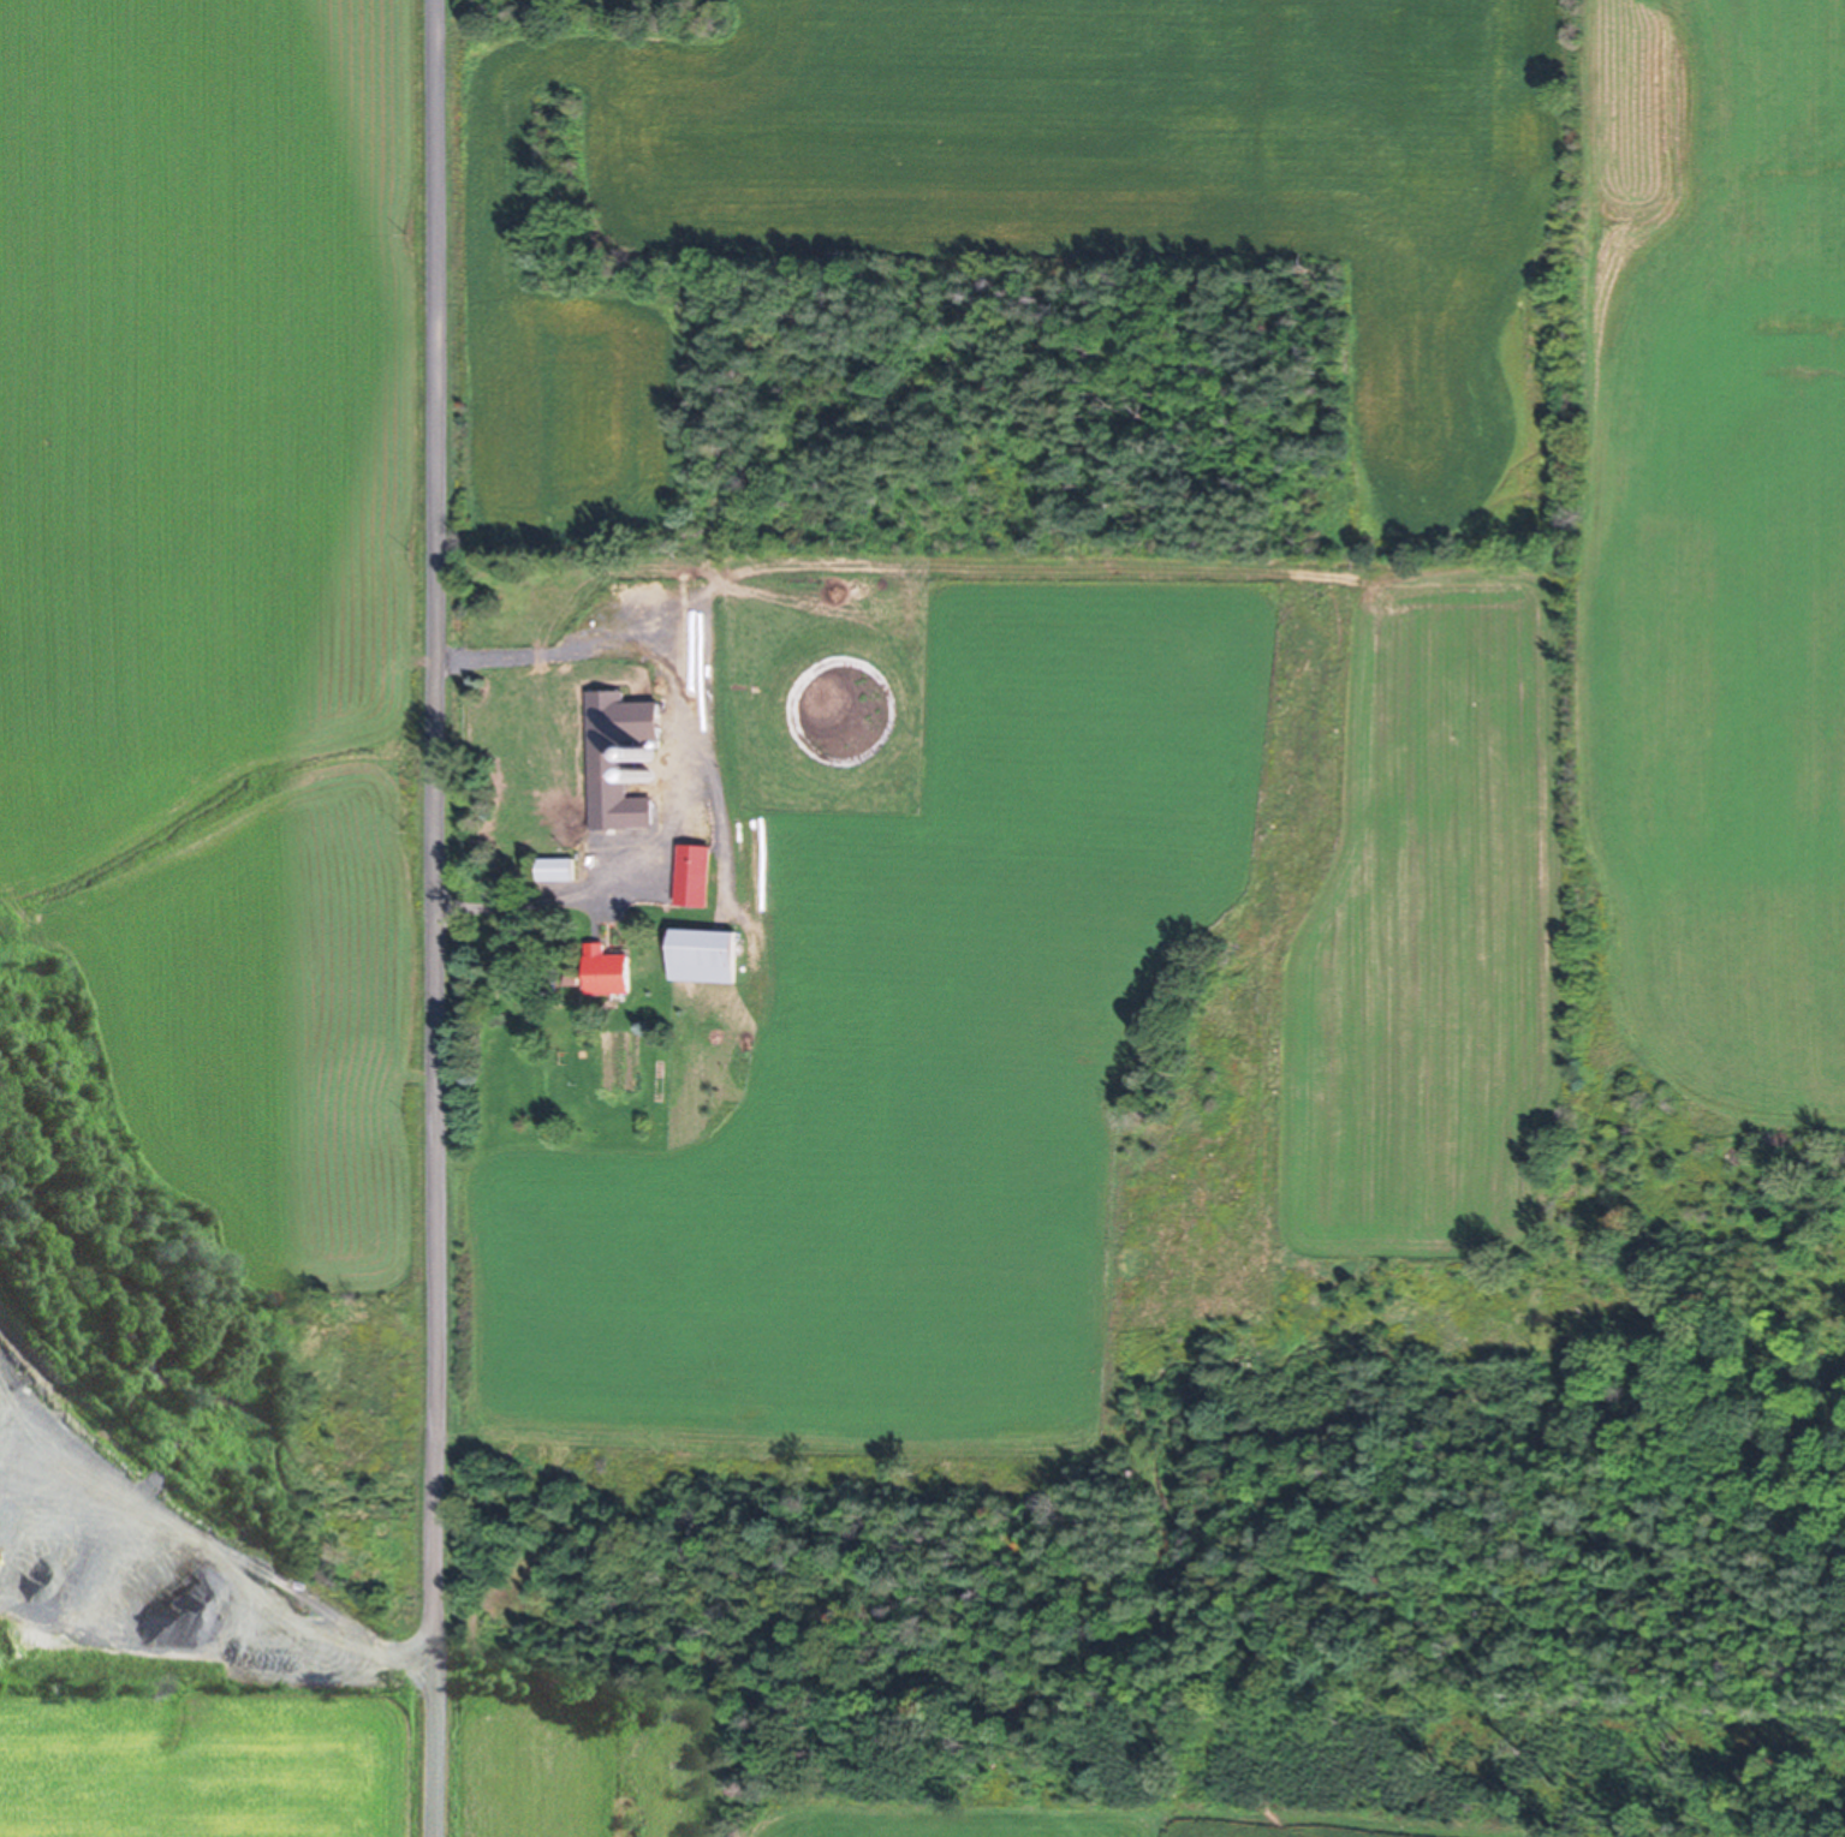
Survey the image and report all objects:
building: (697, 758)
road: (704, 759)
building: (602, 799)
building: (559, 870)
road: (434, 918)
building: (707, 955)
building: (609, 971)

